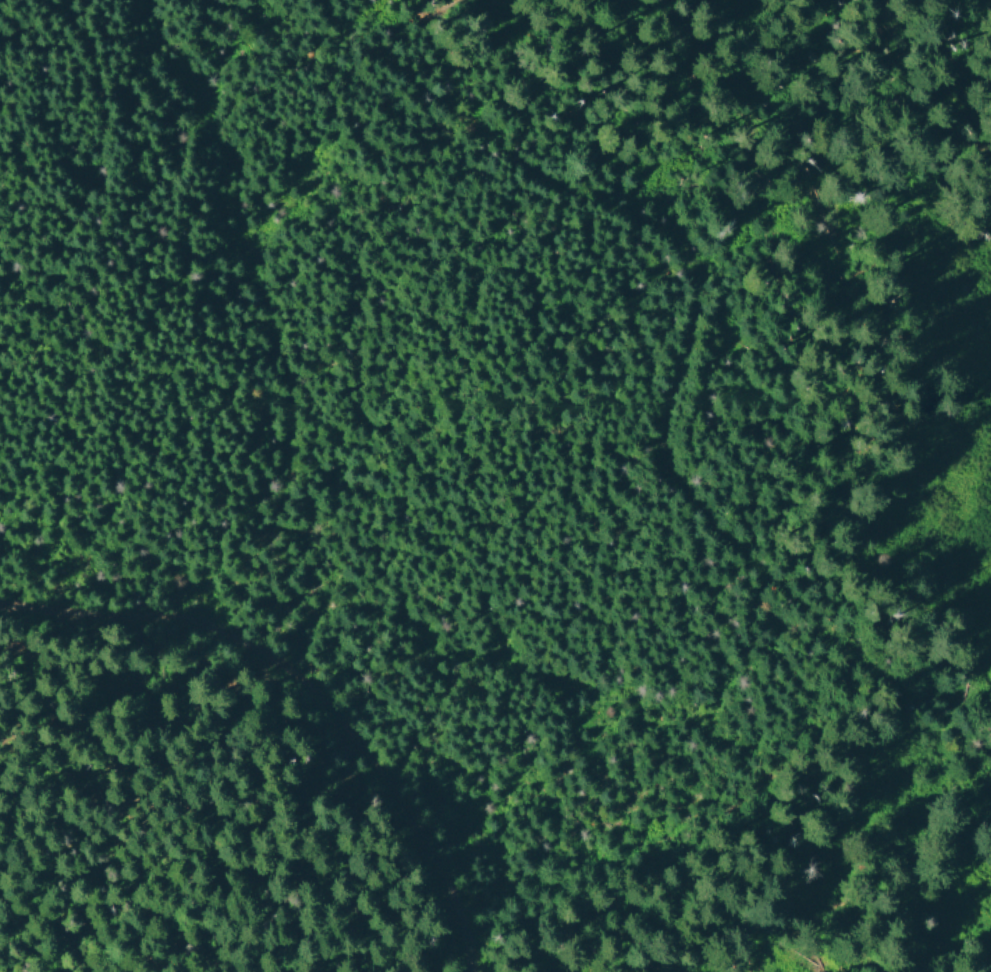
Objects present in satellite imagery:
road: (309, 689)

